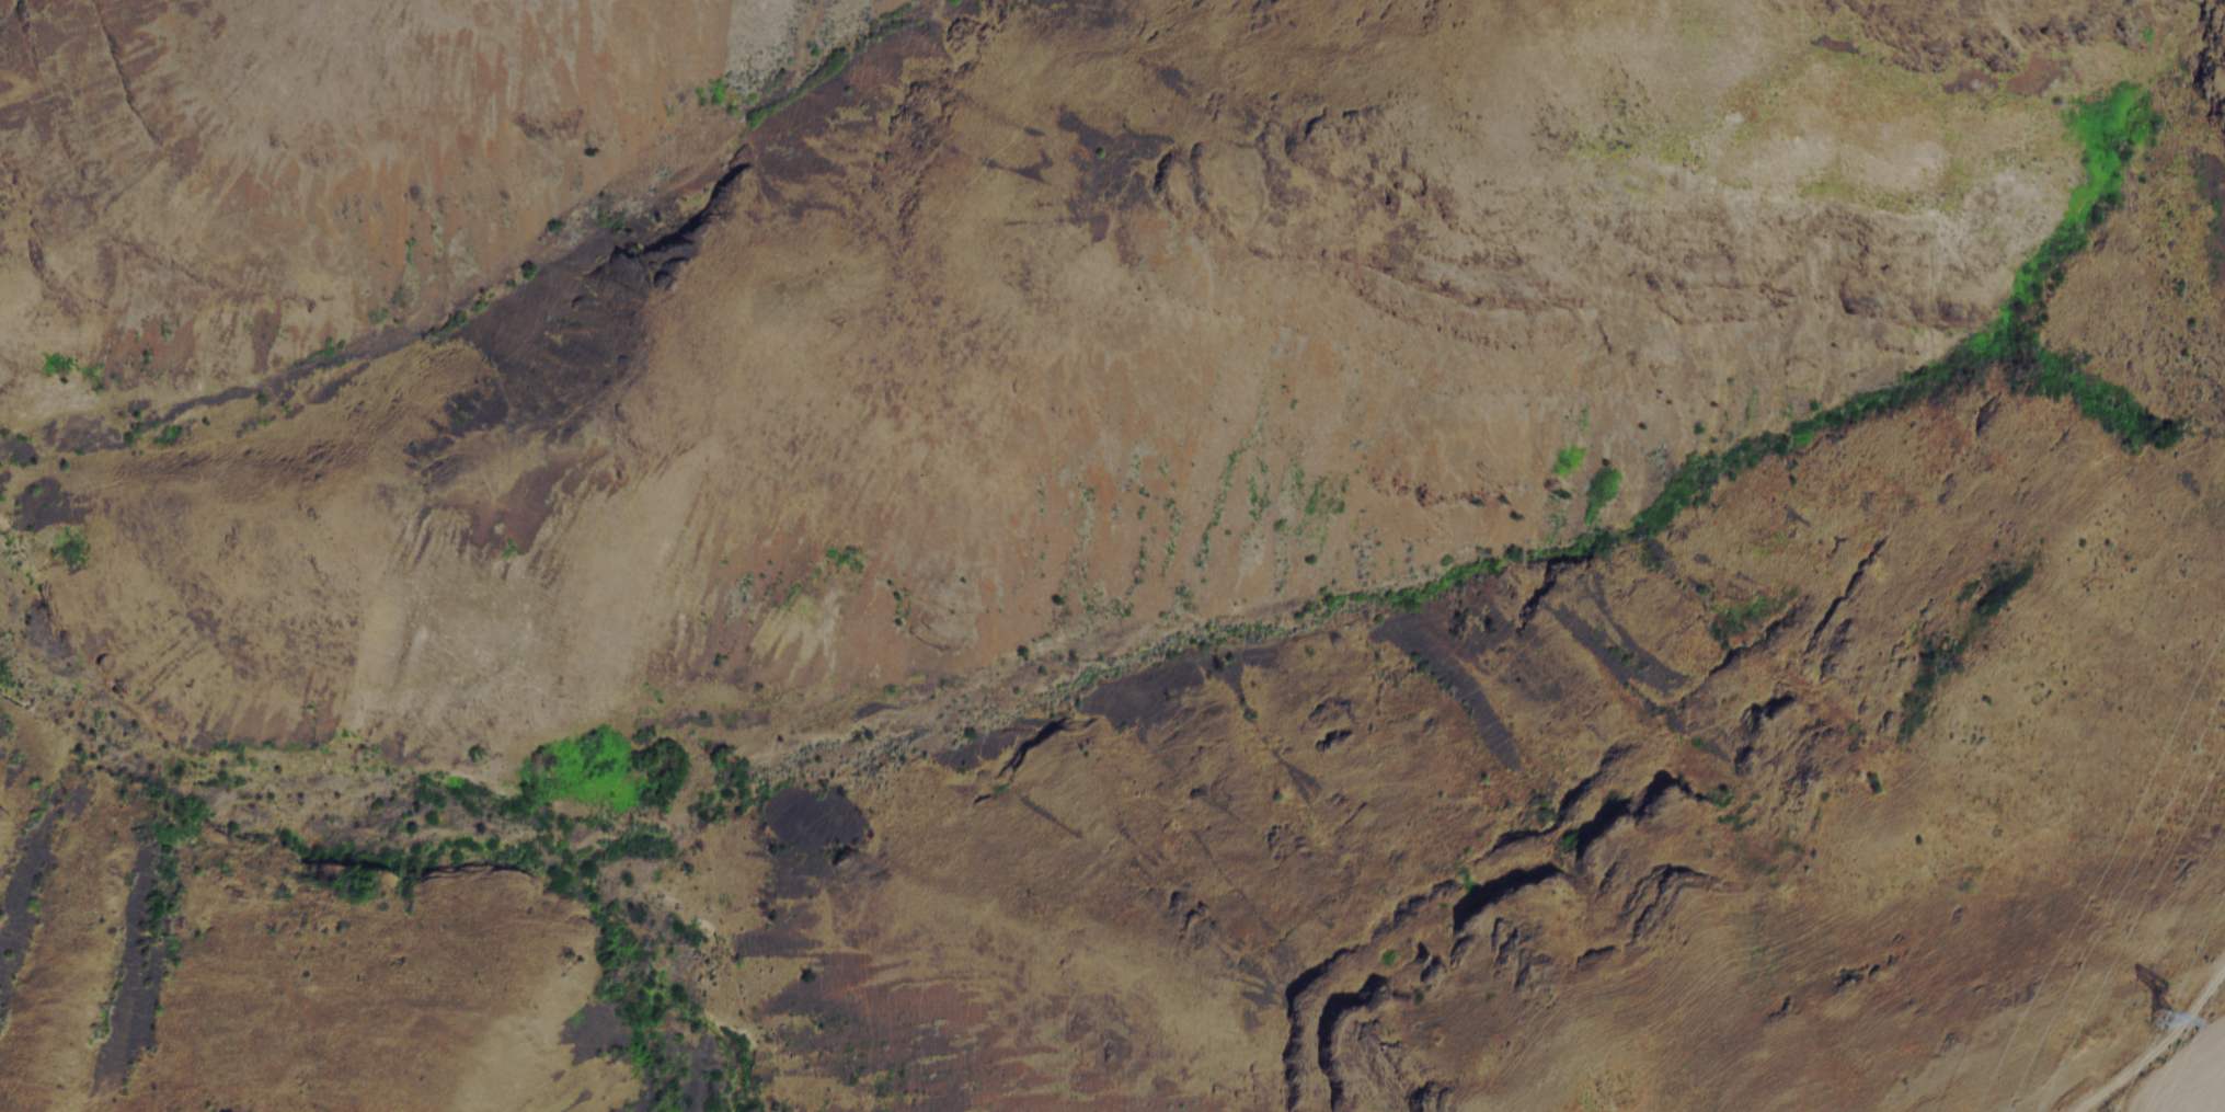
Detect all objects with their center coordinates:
power tower: (2177, 996)

